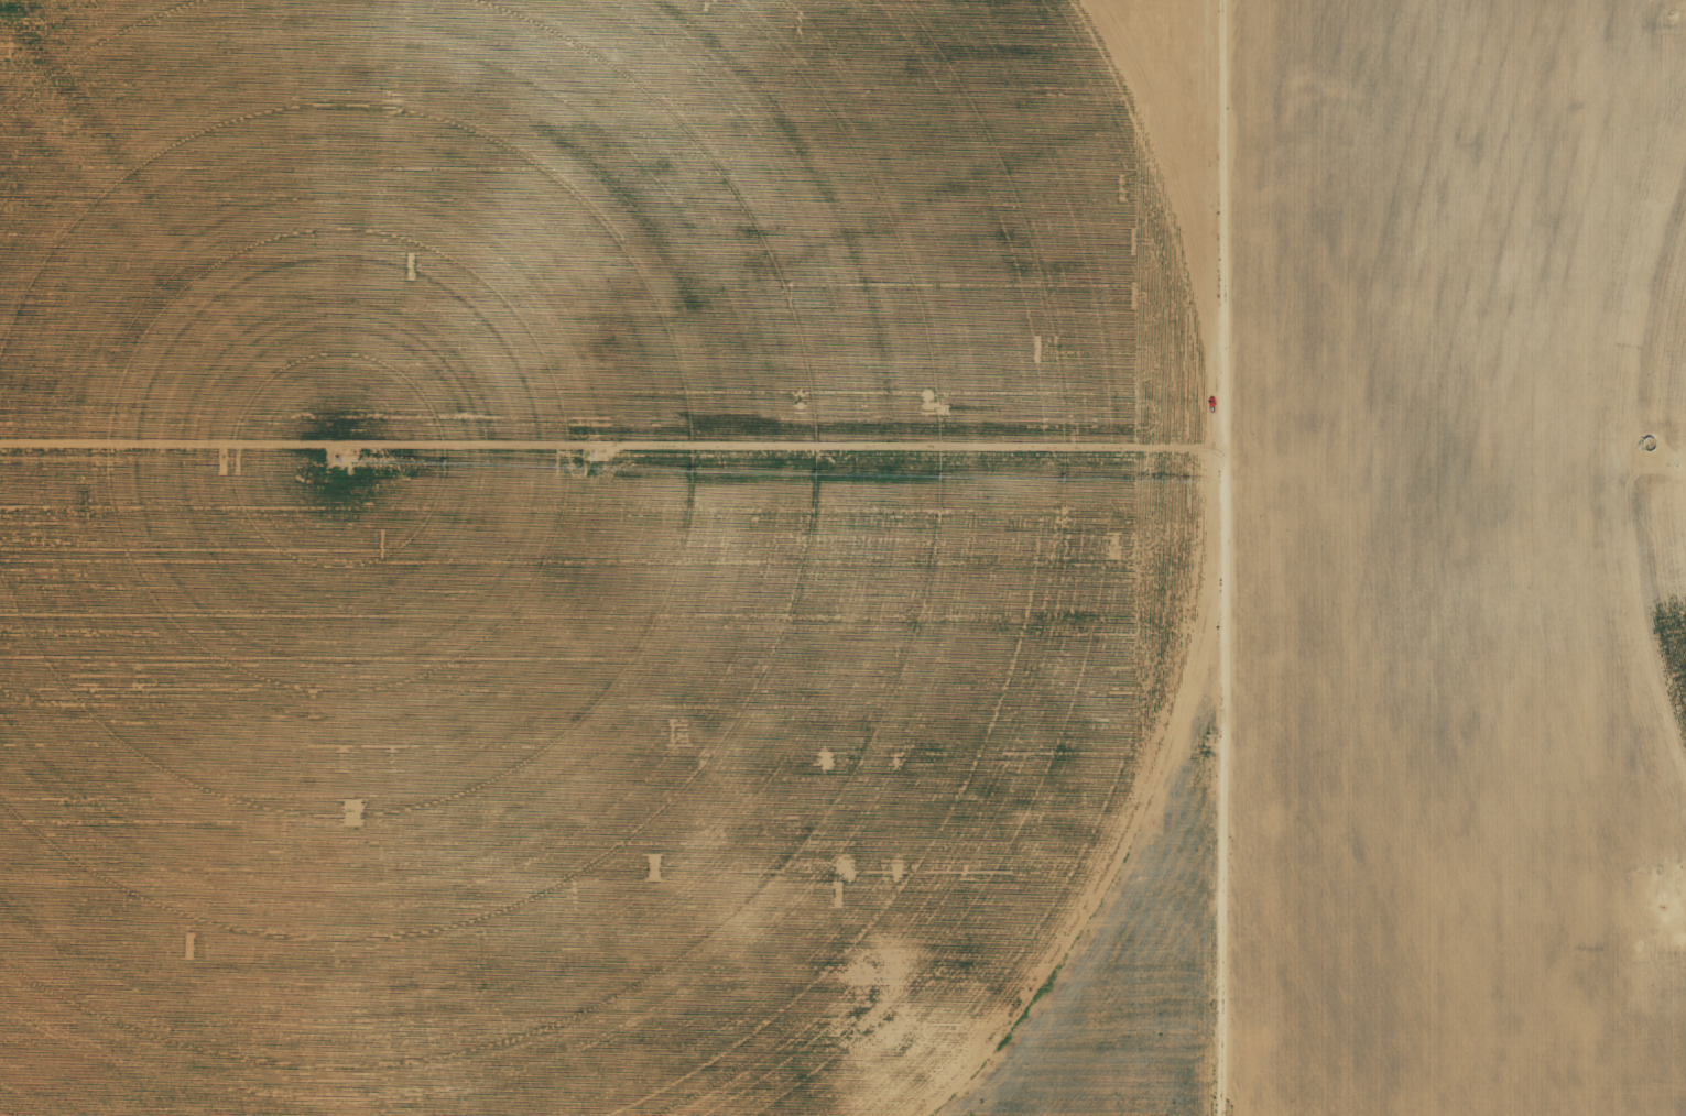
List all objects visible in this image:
road: (1234, 558)

